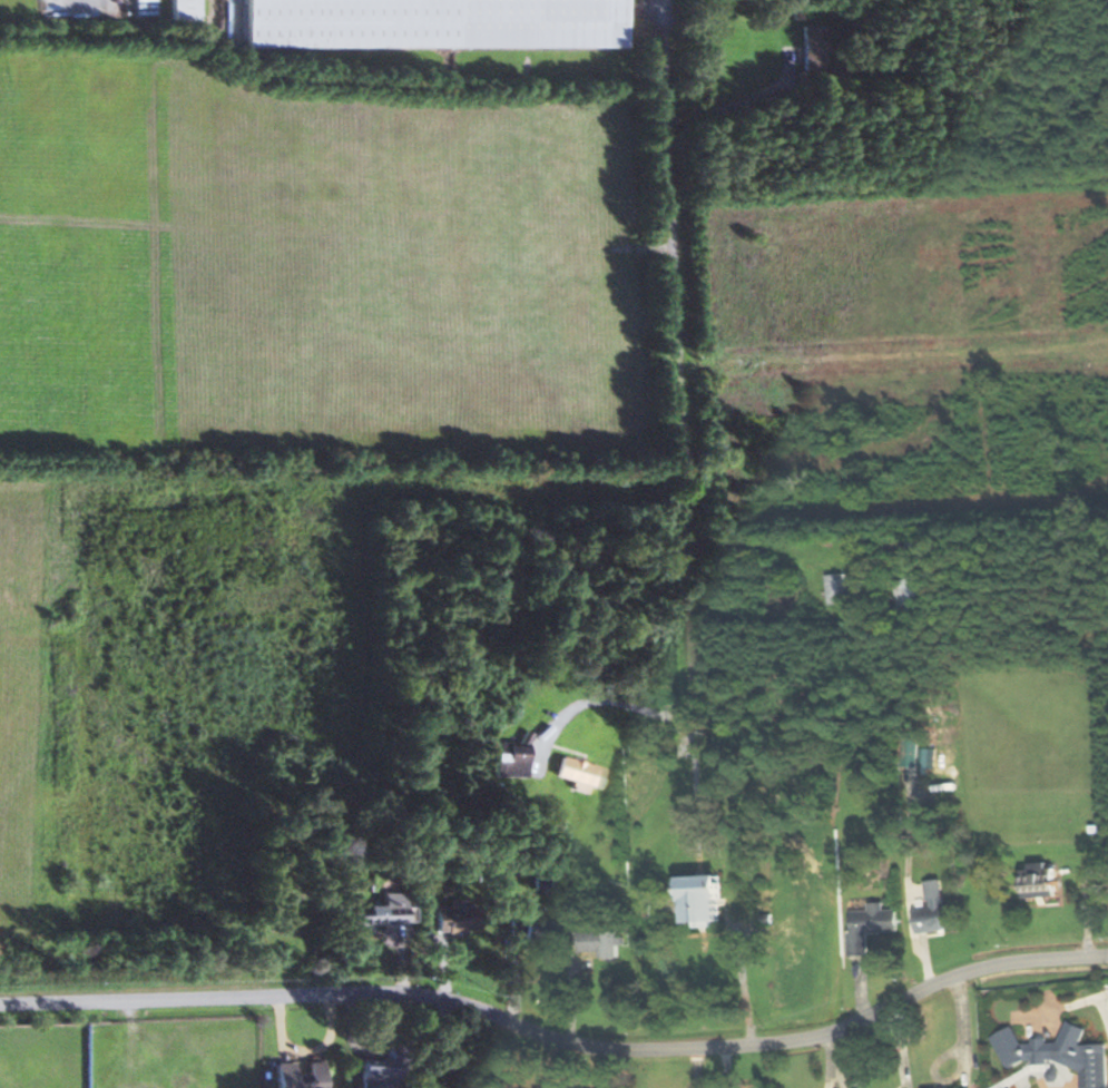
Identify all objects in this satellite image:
building: (180, 9)
building: (432, 22)
building: (810, 46)
road: (674, 343)
building: (837, 588)
building: (911, 595)
road: (692, 694)
road: (599, 702)
road: (684, 706)
building: (510, 758)
building: (578, 772)
building: (1039, 879)
building: (699, 899)
building: (379, 911)
building: (937, 915)
building: (454, 917)
building: (527, 924)
building: (870, 925)
building: (601, 942)
road: (558, 1038)
road: (438, 1045)
building: (1059, 1052)
building: (296, 1075)
building: (373, 1076)
building: (1007, 1086)
building: (963, 1087)

